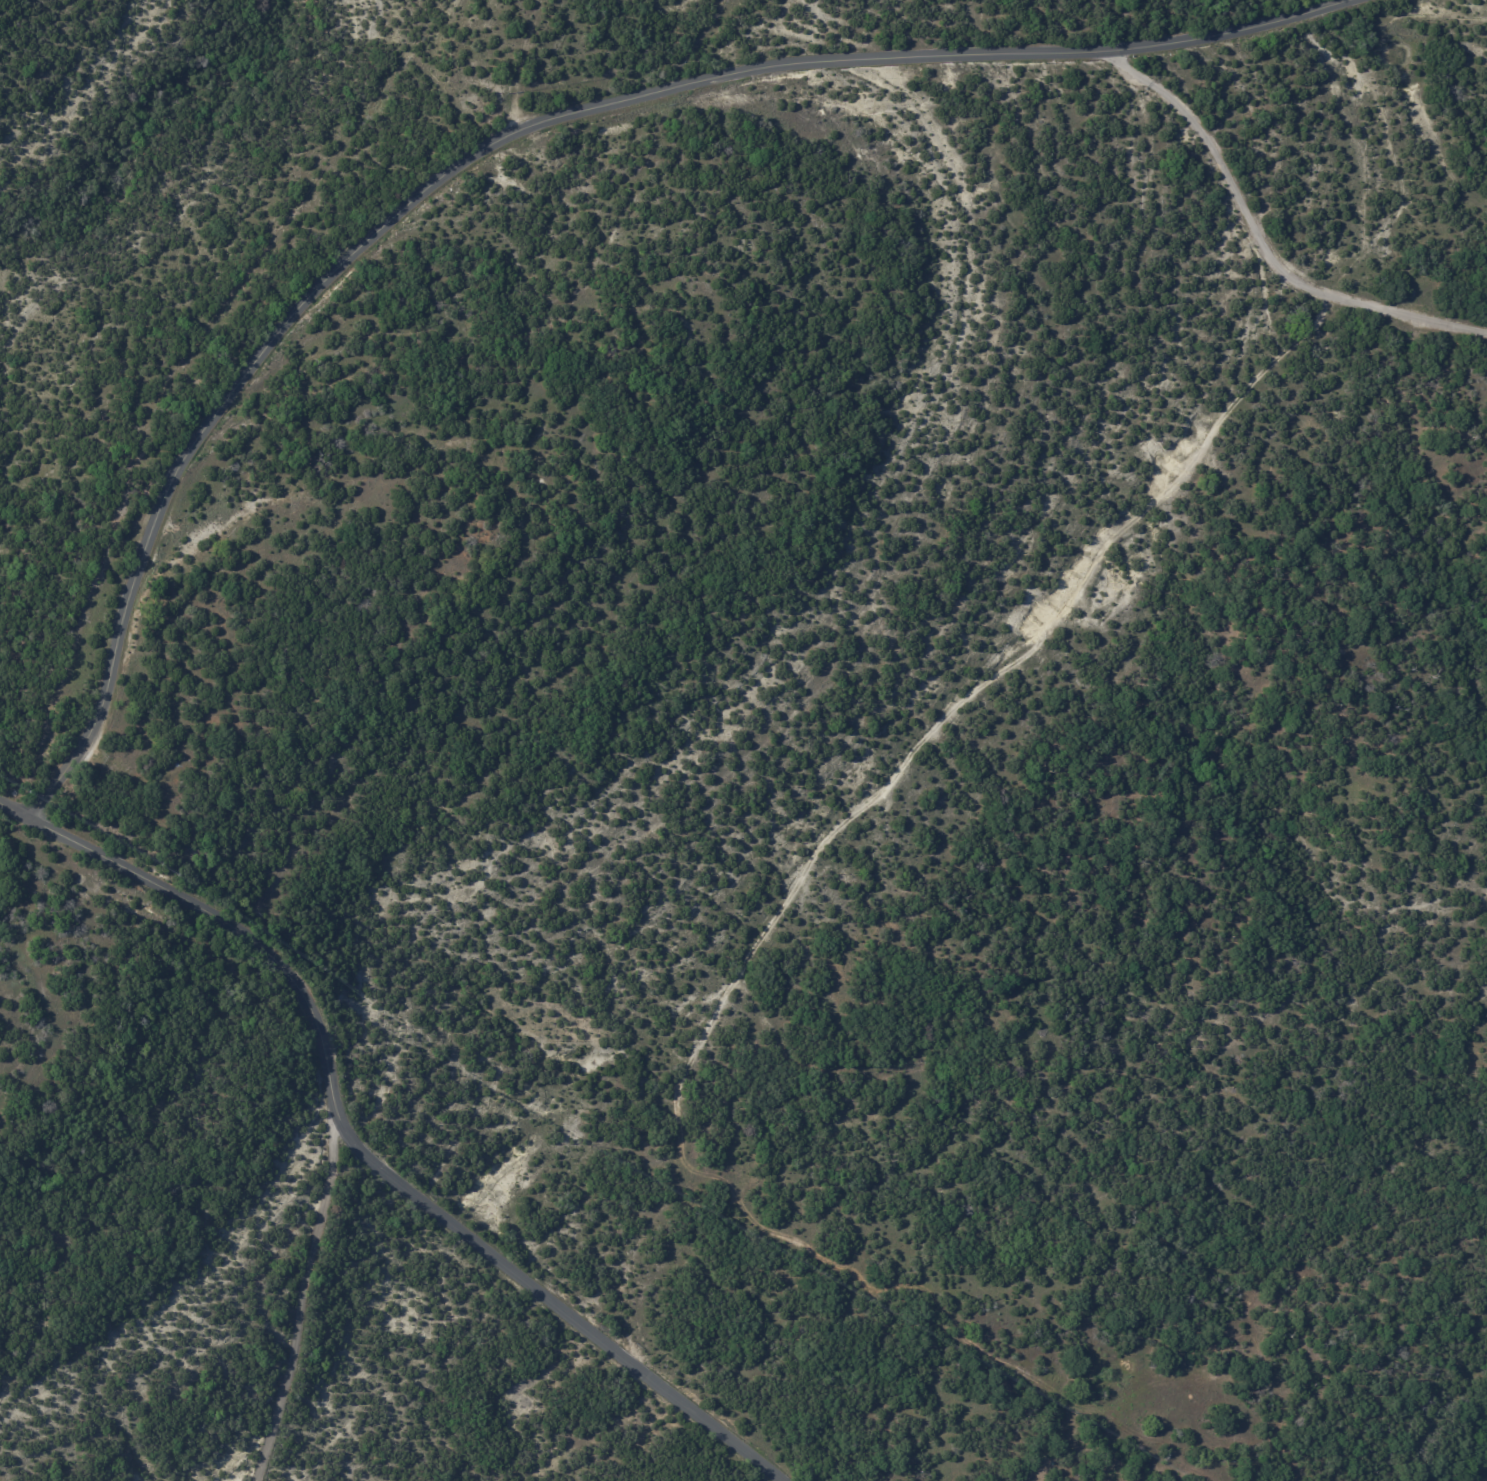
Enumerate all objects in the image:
road: (506, 136)
road: (1260, 238)
road: (358, 1148)
road: (301, 1305)

